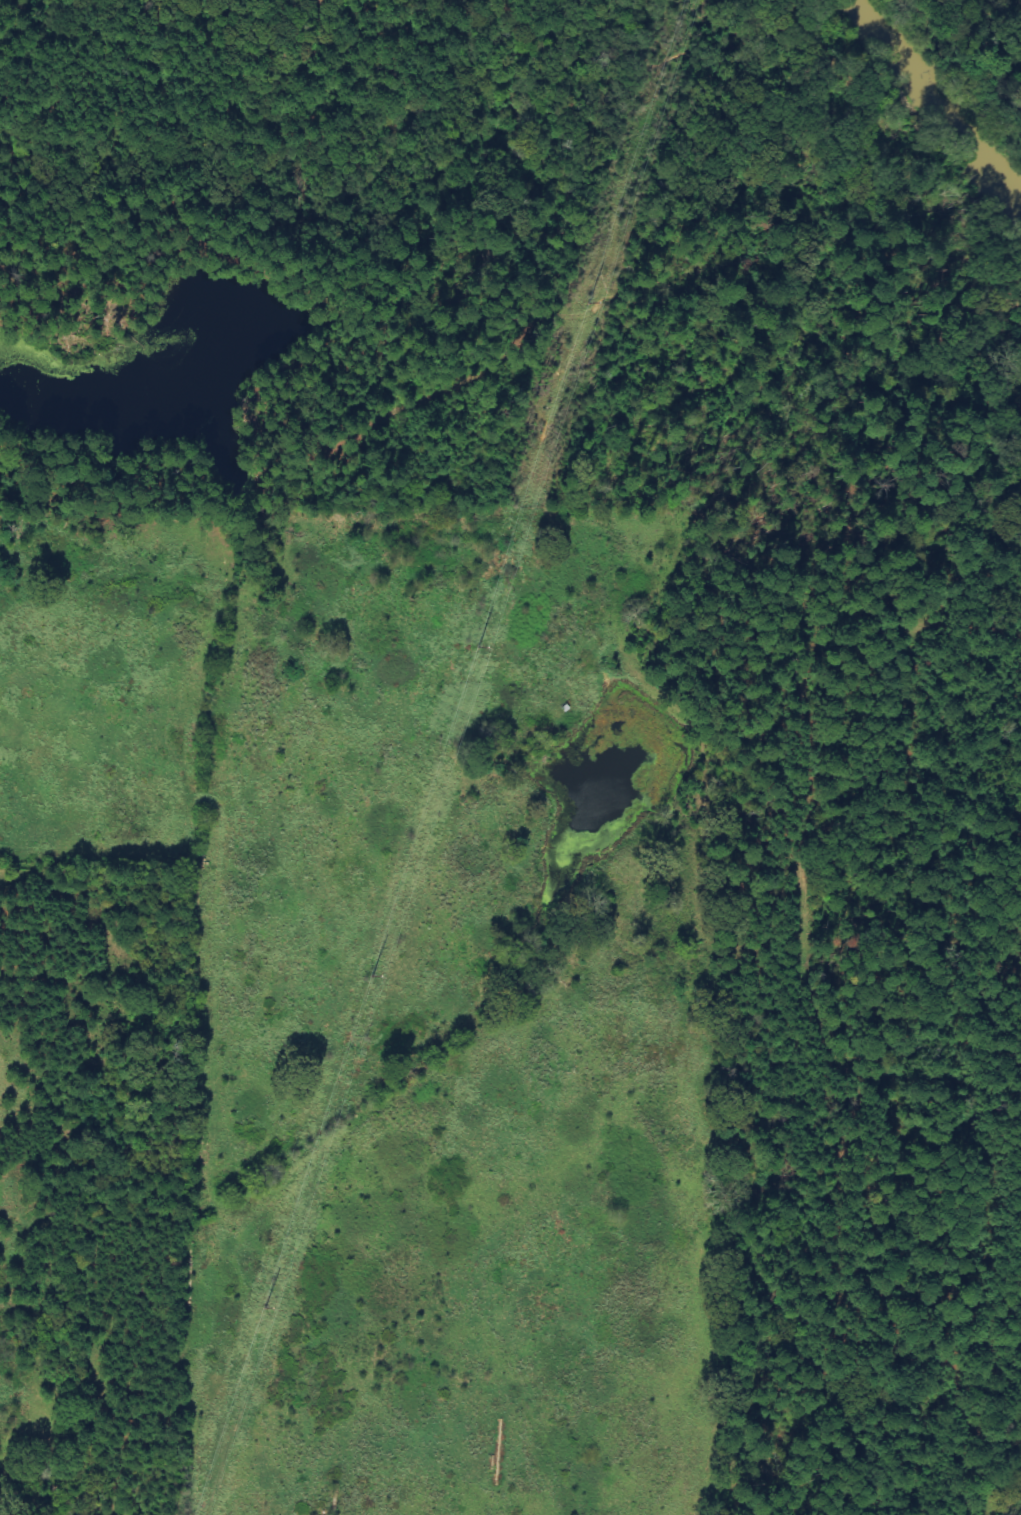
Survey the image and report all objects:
power tower: (588, 302)
power tower: (478, 646)
power tower: (371, 976)
power tower: (263, 1308)

